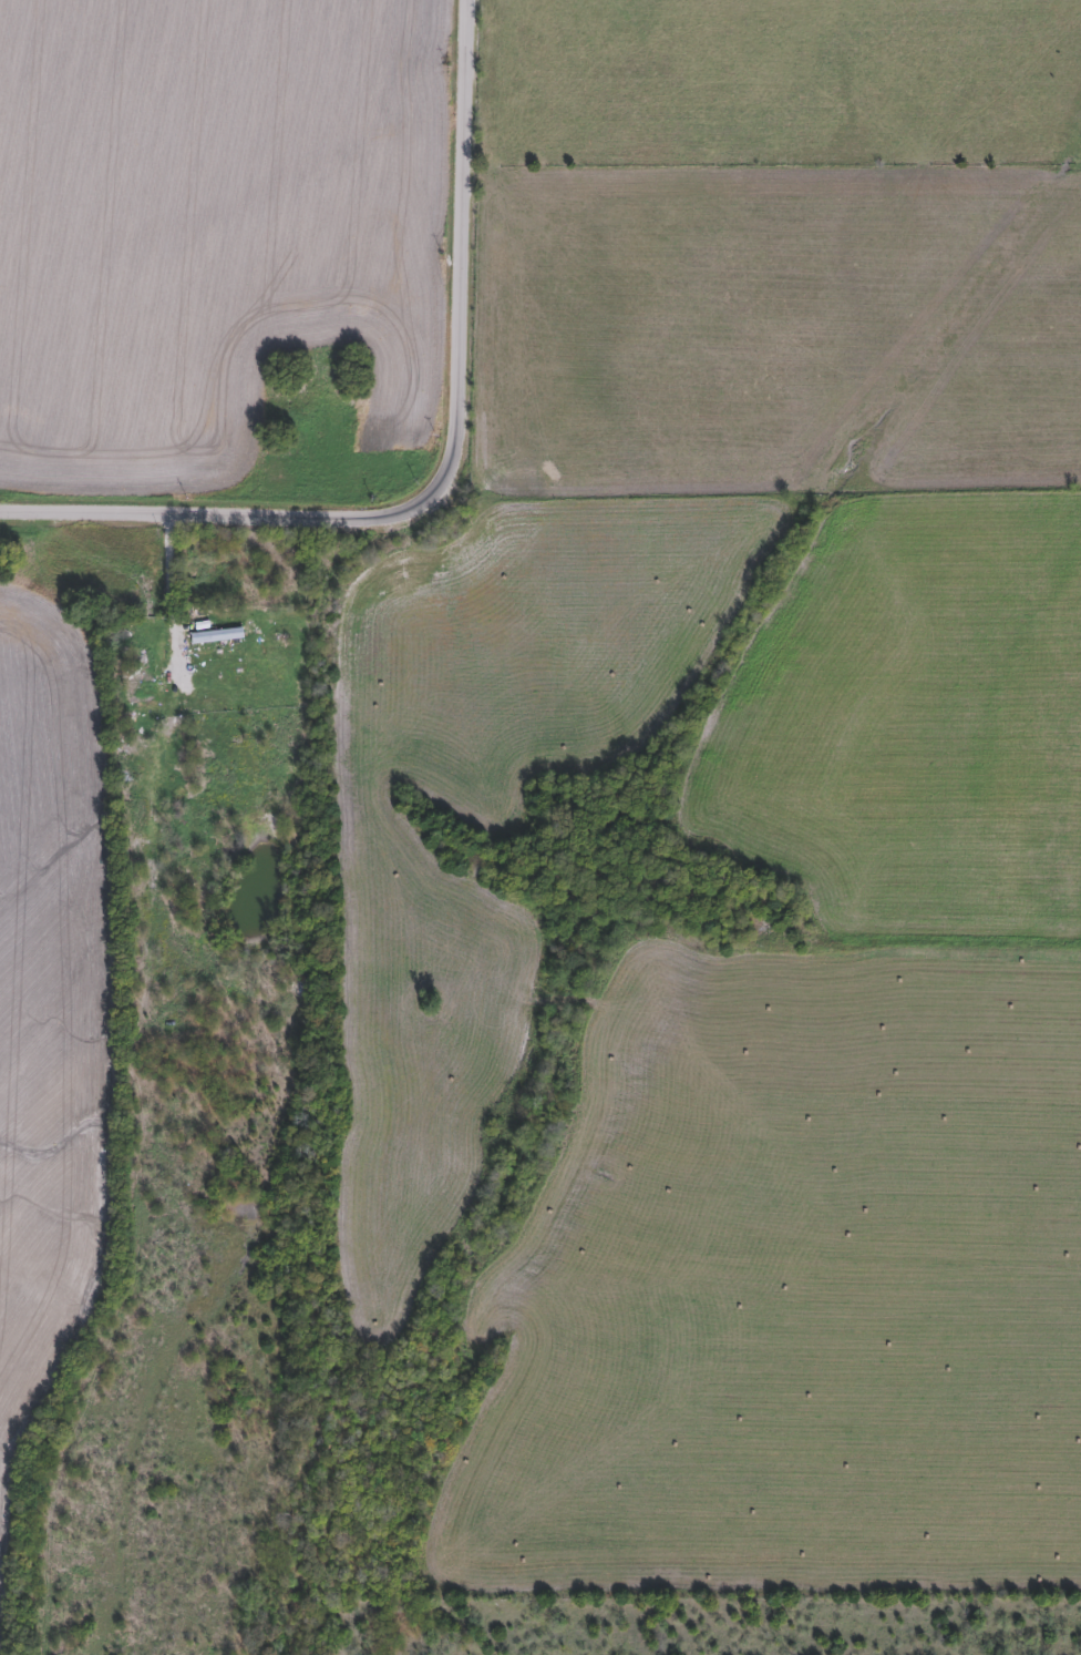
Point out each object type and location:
road: (445, 466)
road: (167, 578)

